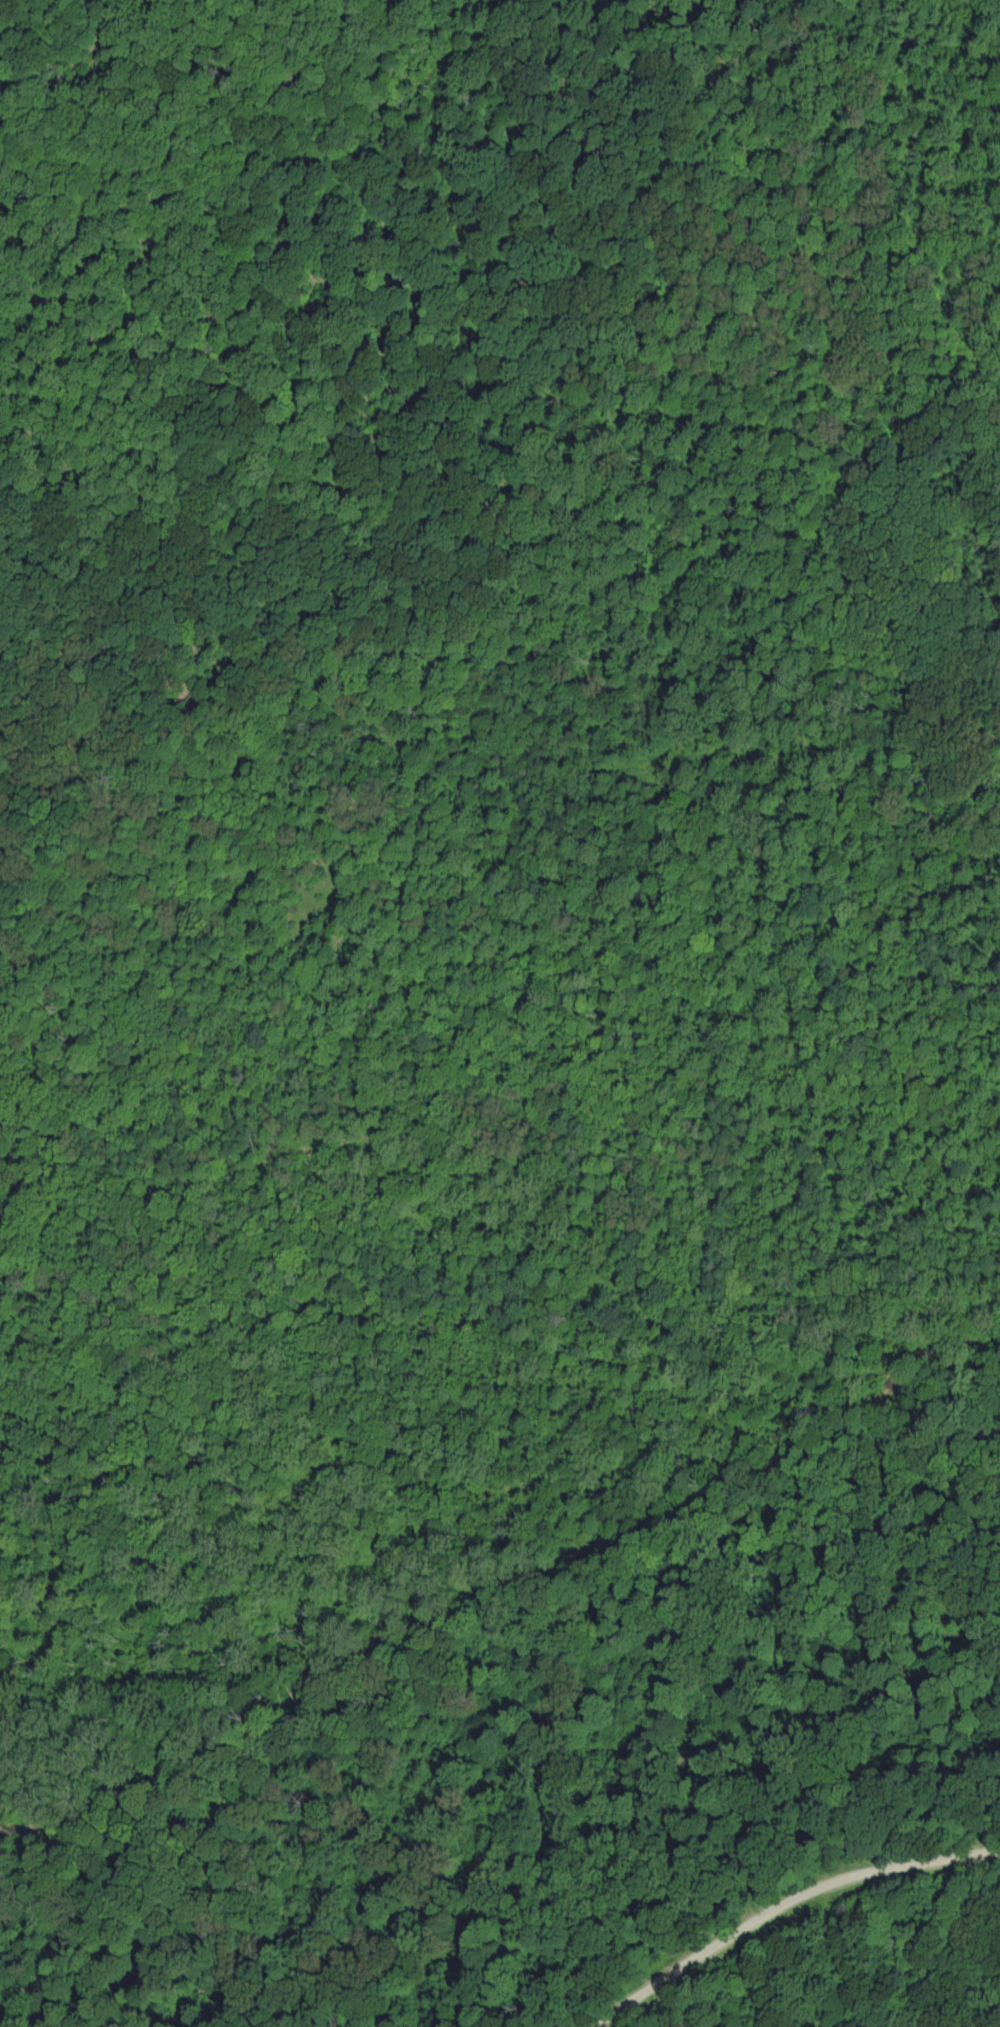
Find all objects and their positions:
road: (784, 1906)

